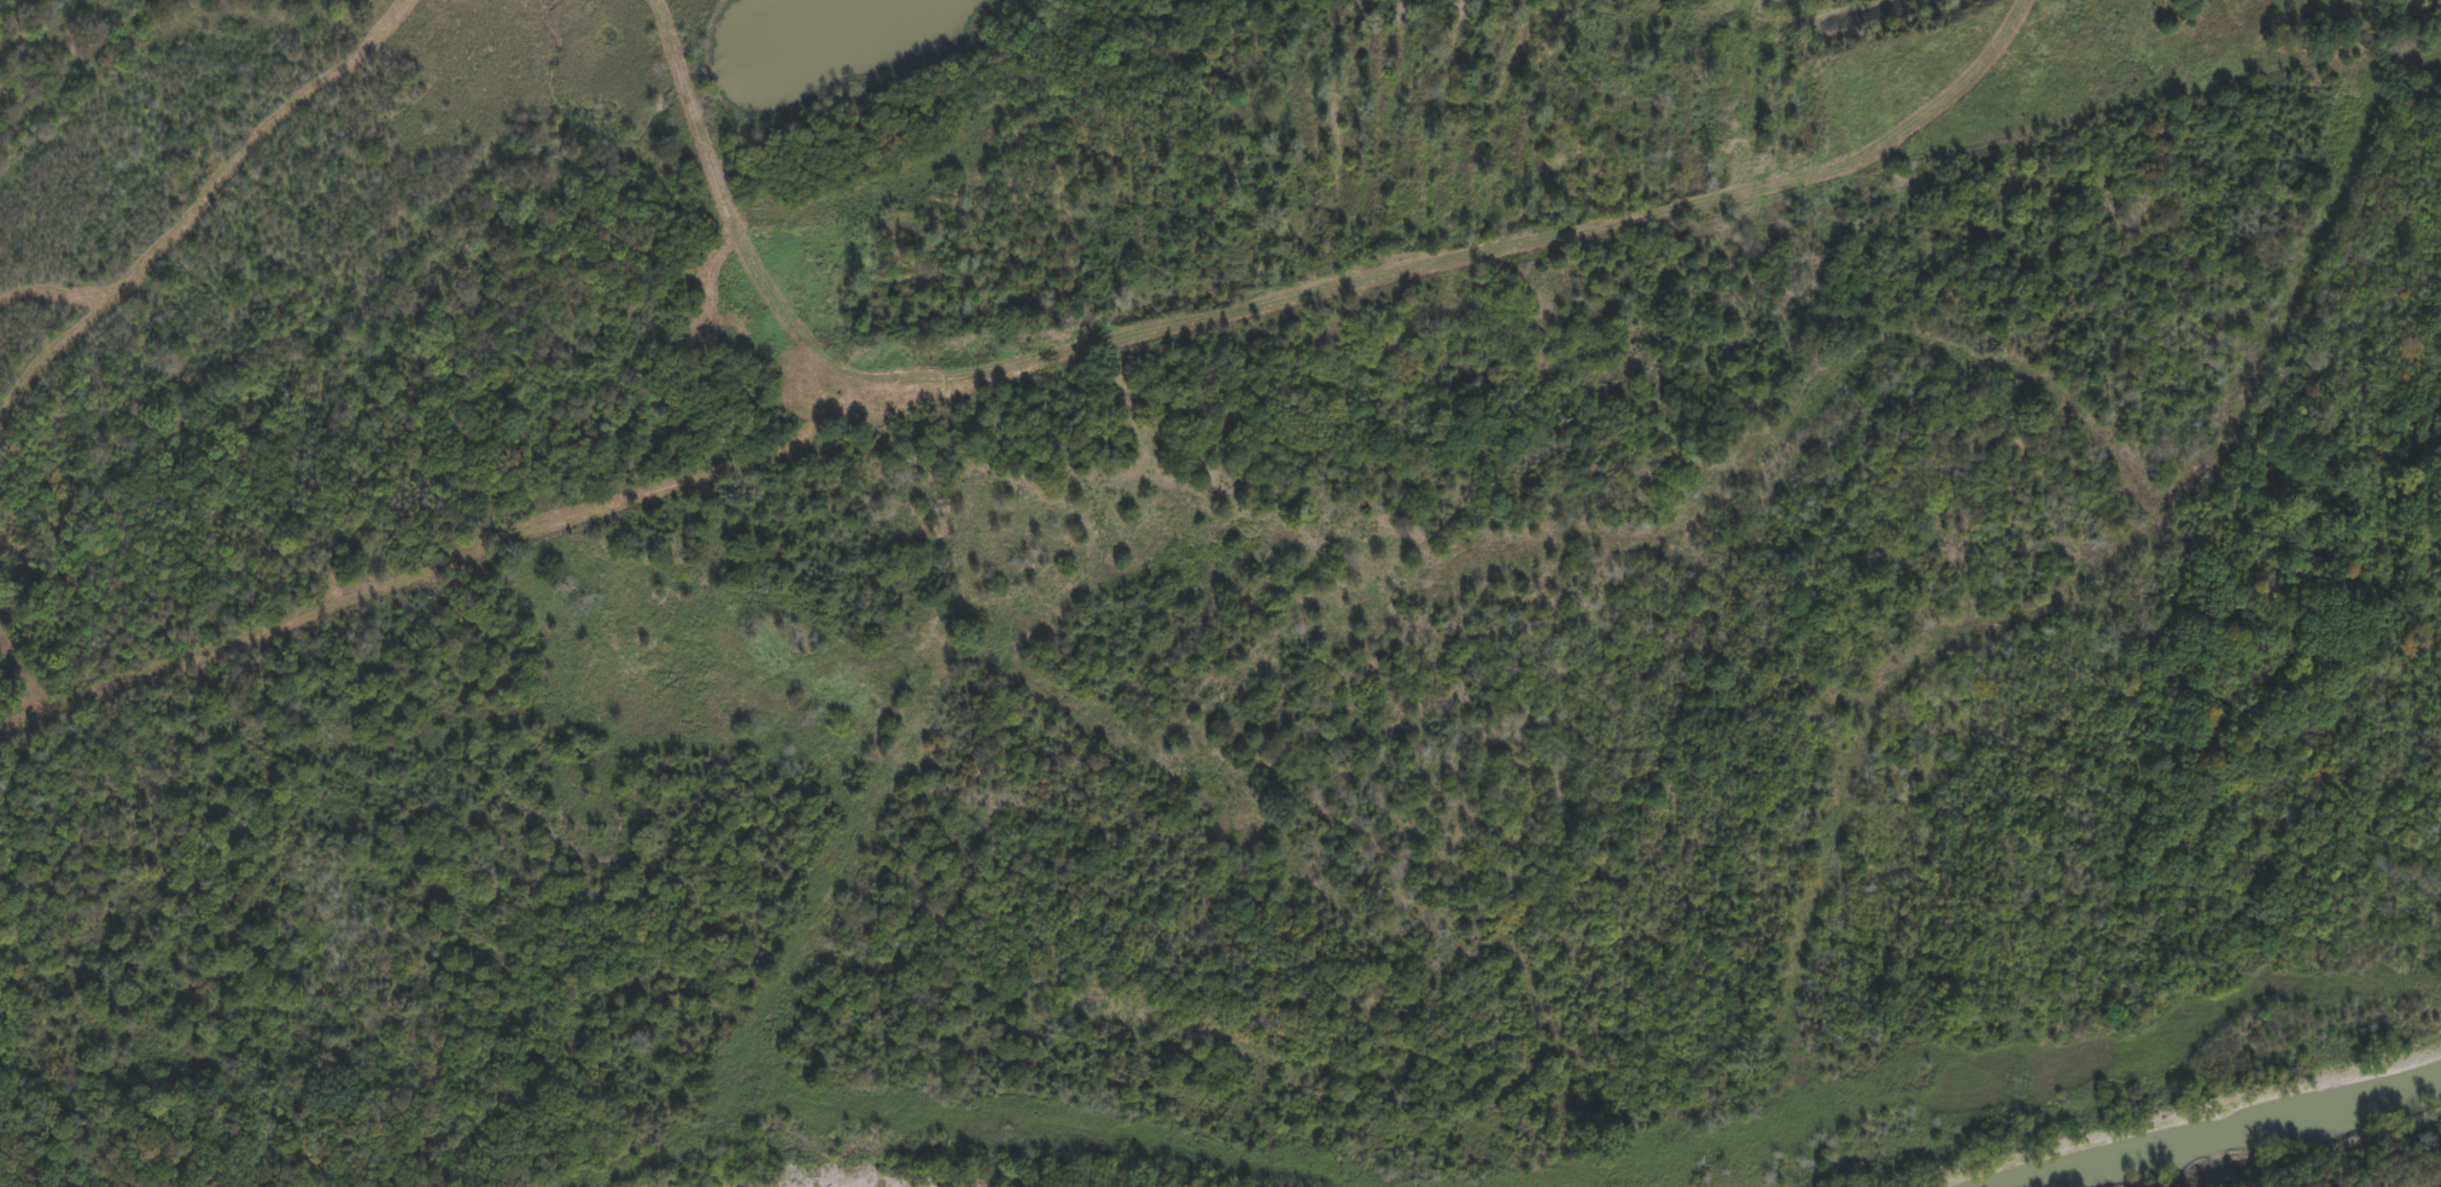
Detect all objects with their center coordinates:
river: (2239, 1135)

